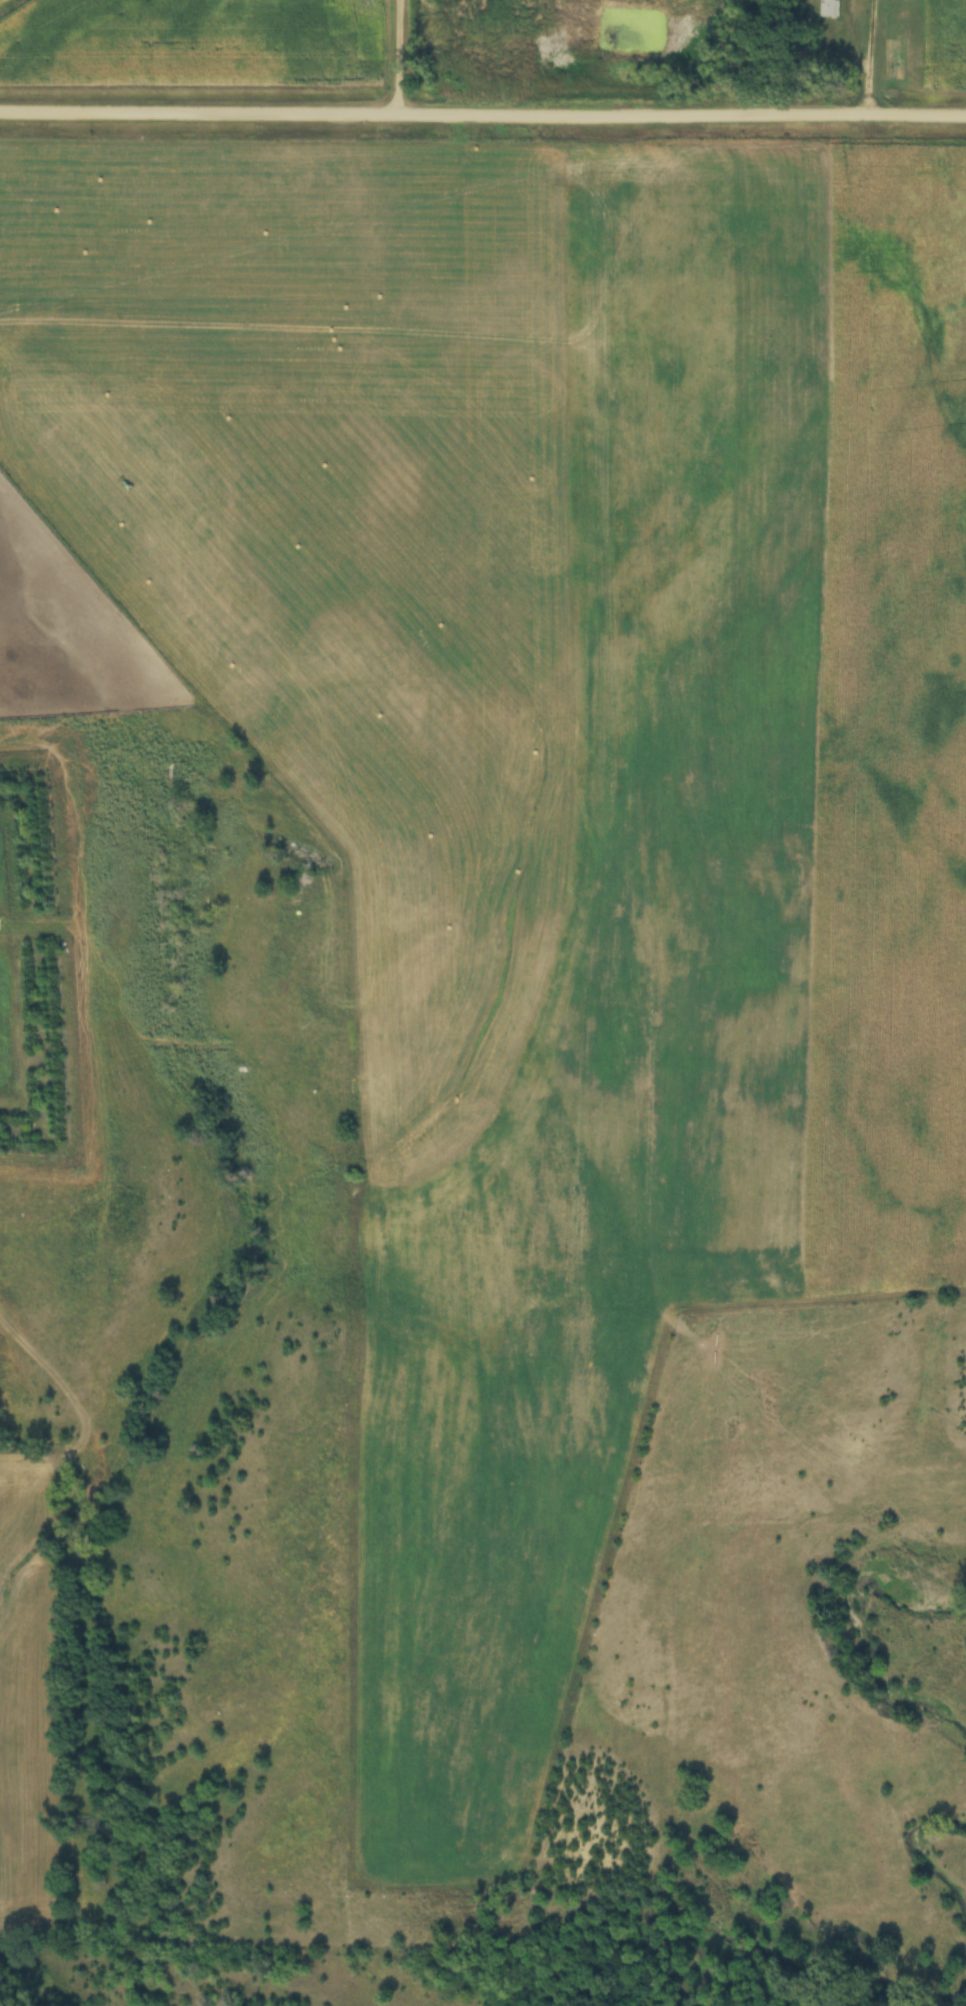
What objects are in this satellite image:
building: (829, 9)
road: (400, 53)
road: (482, 107)

